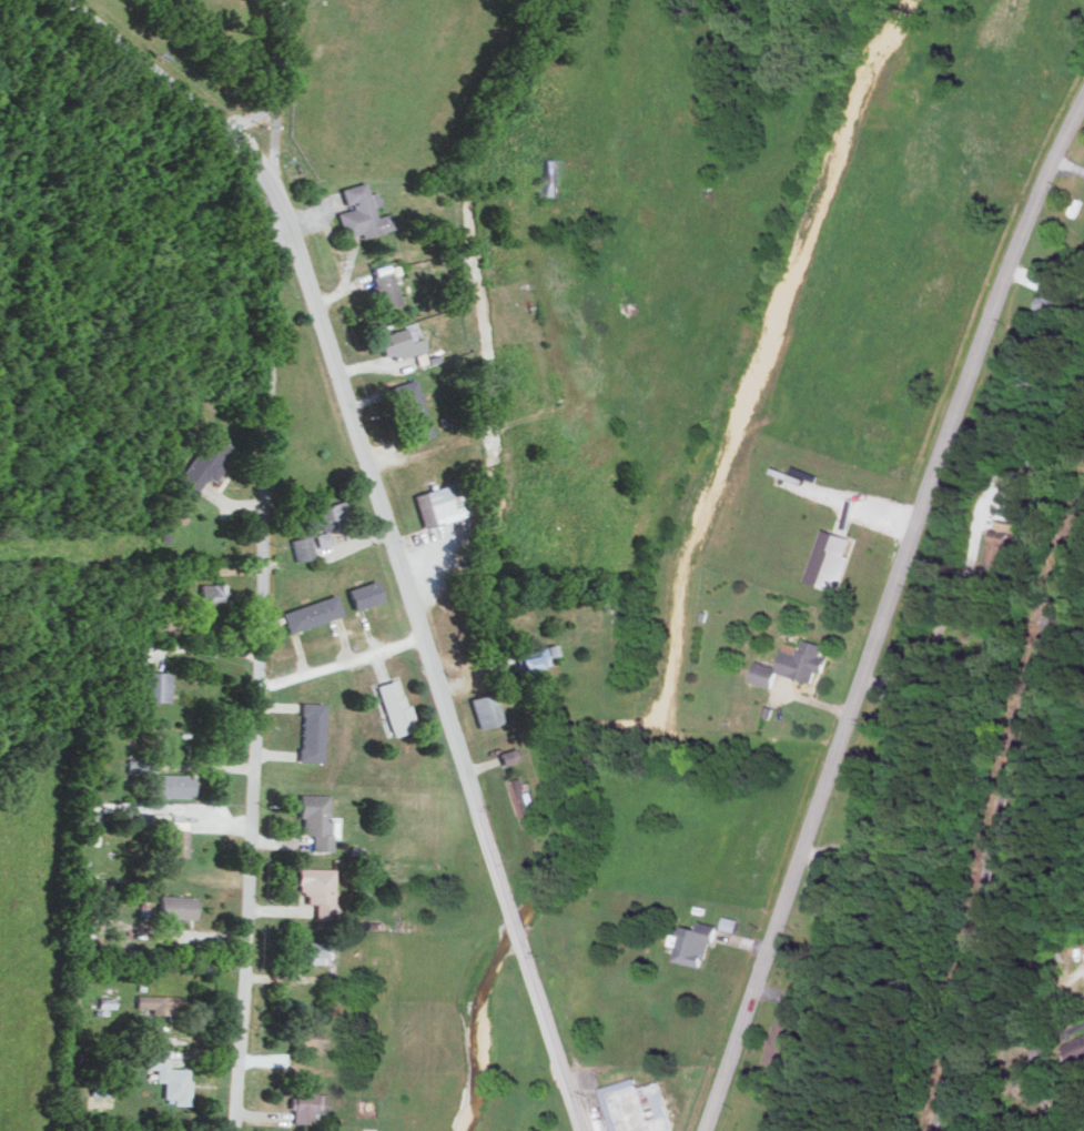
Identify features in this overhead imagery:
road: (267, 79)
road: (265, 139)
road: (136, 142)
building: (551, 175)
building: (359, 210)
building: (383, 283)
building: (1048, 304)
building: (399, 340)
building: (1009, 359)
building: (409, 408)
building: (205, 462)
building: (439, 502)
road: (385, 525)
building: (322, 537)
building: (1002, 541)
building: (302, 546)
building: (830, 558)
building: (213, 590)
building: (364, 593)
road: (883, 608)
building: (311, 612)
building: (536, 655)
building: (792, 662)
road: (340, 664)
road: (260, 673)
building: (158, 685)
building: (394, 705)
building: (485, 708)
building: (312, 730)
building: (509, 754)
building: (140, 764)
building: (174, 784)
building: (526, 800)
building: (317, 819)
railway: (1003, 825)
building: (88, 836)
building: (178, 837)
building: (857, 846)
building: (317, 888)
building: (176, 905)
building: (839, 905)
building: (729, 922)
building: (695, 942)
building: (316, 951)
building: (156, 1001)
building: (307, 1037)
building: (781, 1038)
building: (355, 1040)
building: (1077, 1049)
road: (1034, 1071)
building: (168, 1074)
building: (306, 1104)
building: (637, 1105)

